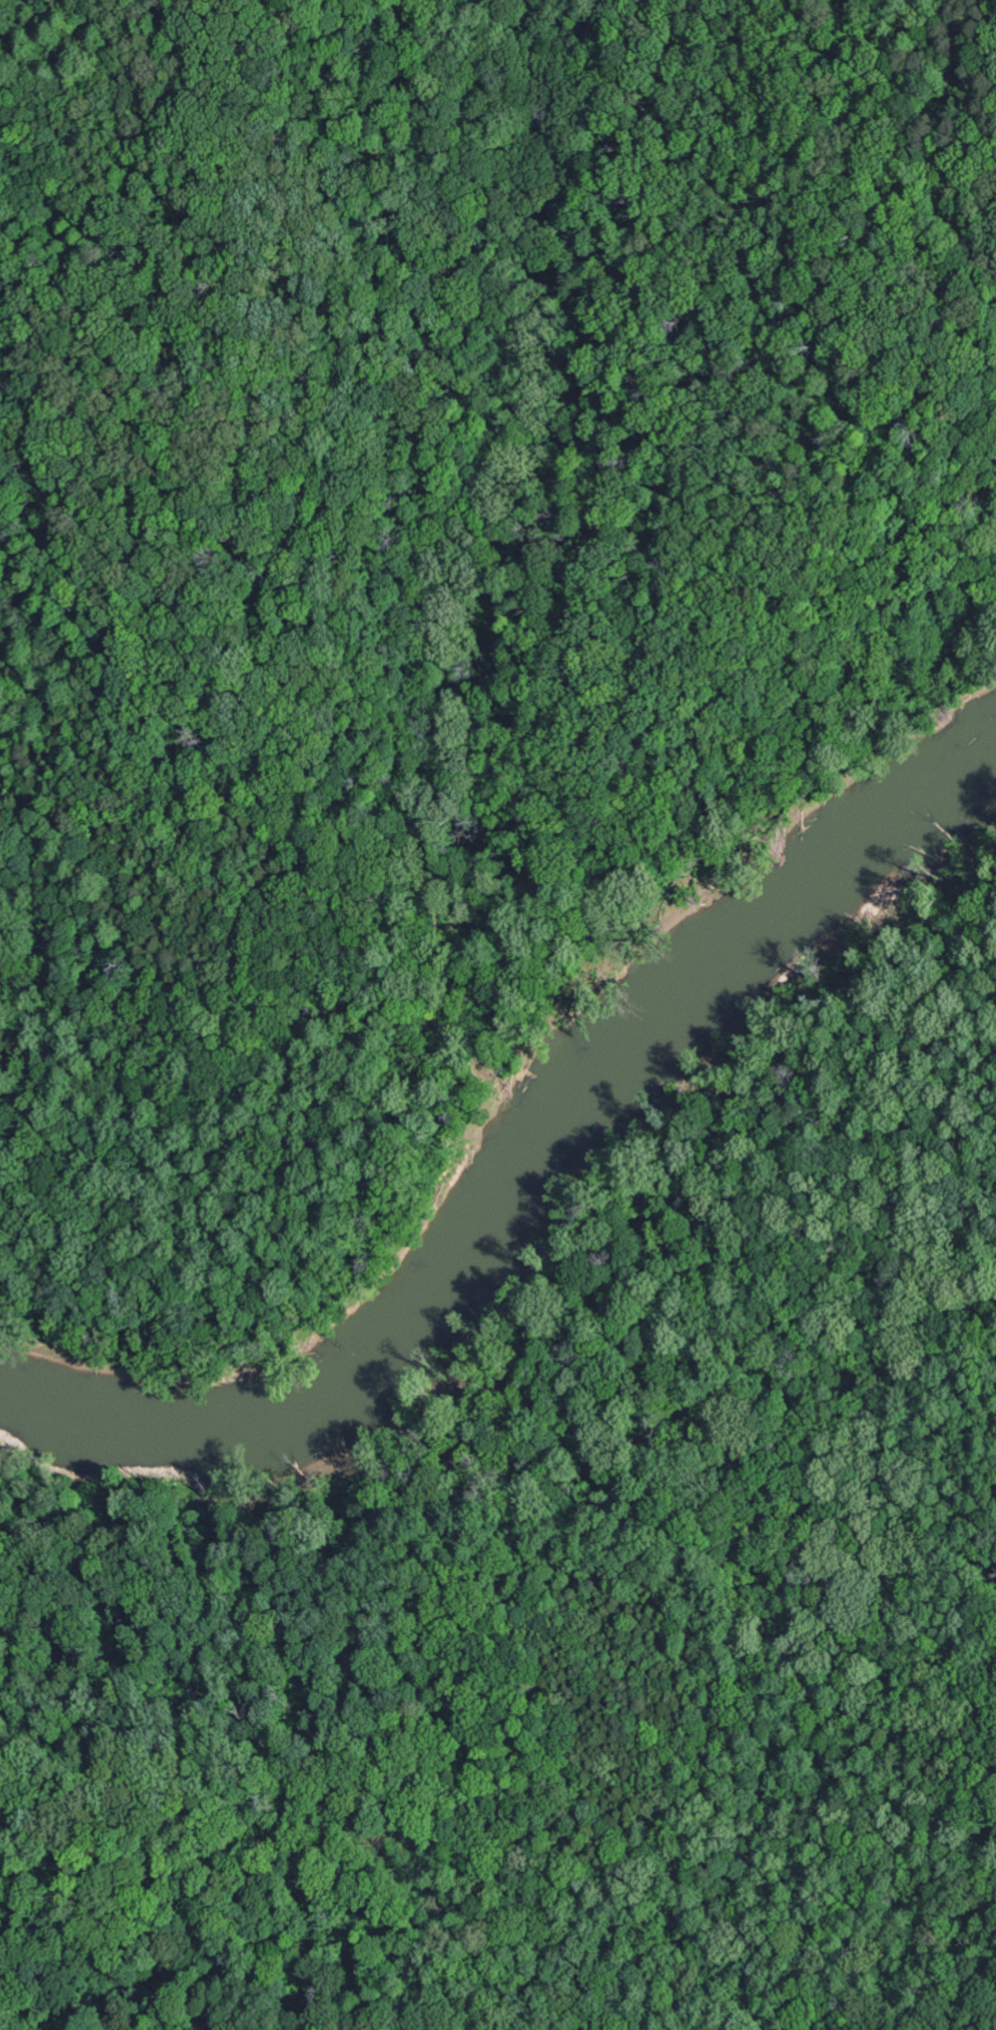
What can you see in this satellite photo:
road: (299, 551)
road: (651, 683)
river: (556, 1216)

